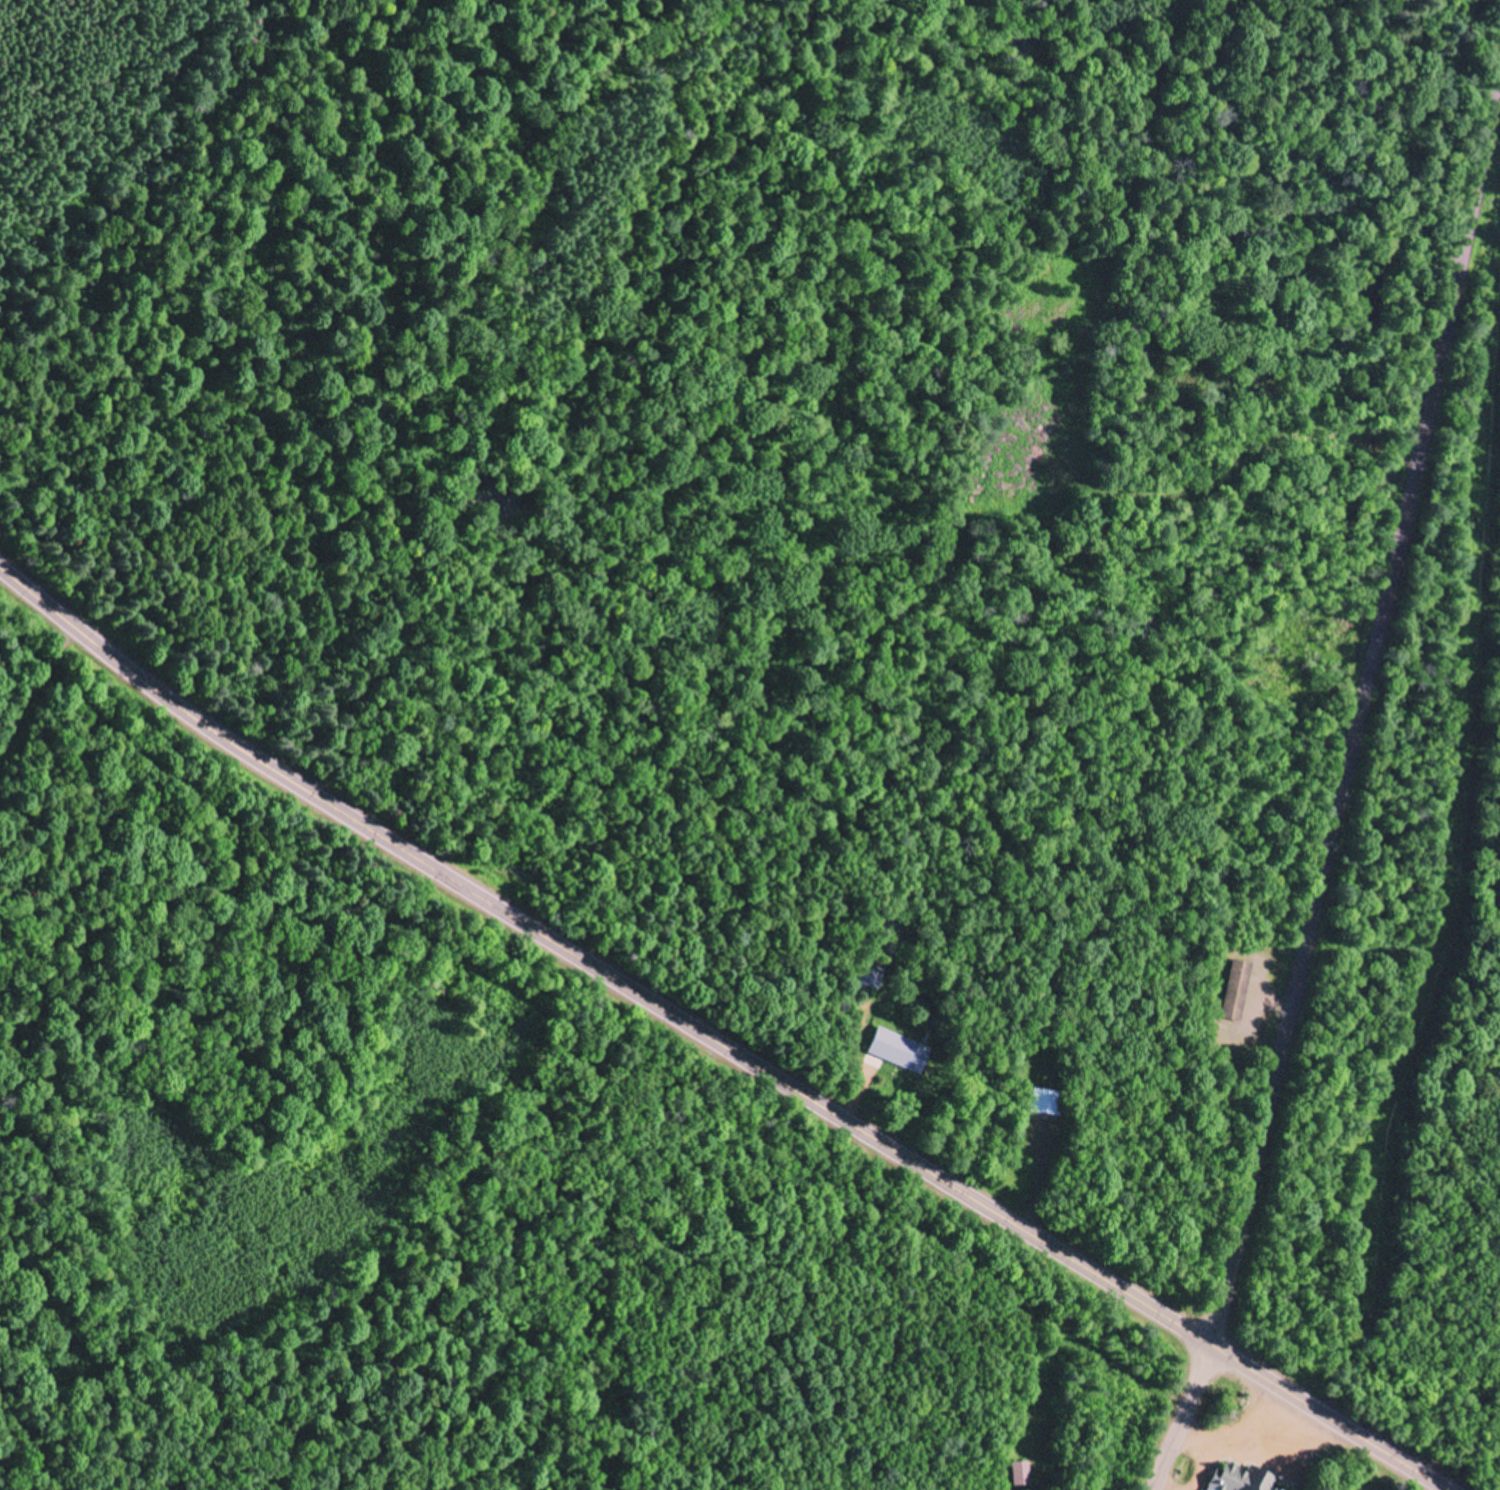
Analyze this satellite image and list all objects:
road: (1049, 108)
road: (1370, 742)
building: (871, 977)
building: (1239, 992)
road: (715, 1042)
building: (901, 1053)
building: (1046, 1103)
road: (1186, 1419)
building: (1020, 1476)
building: (1239, 1479)

